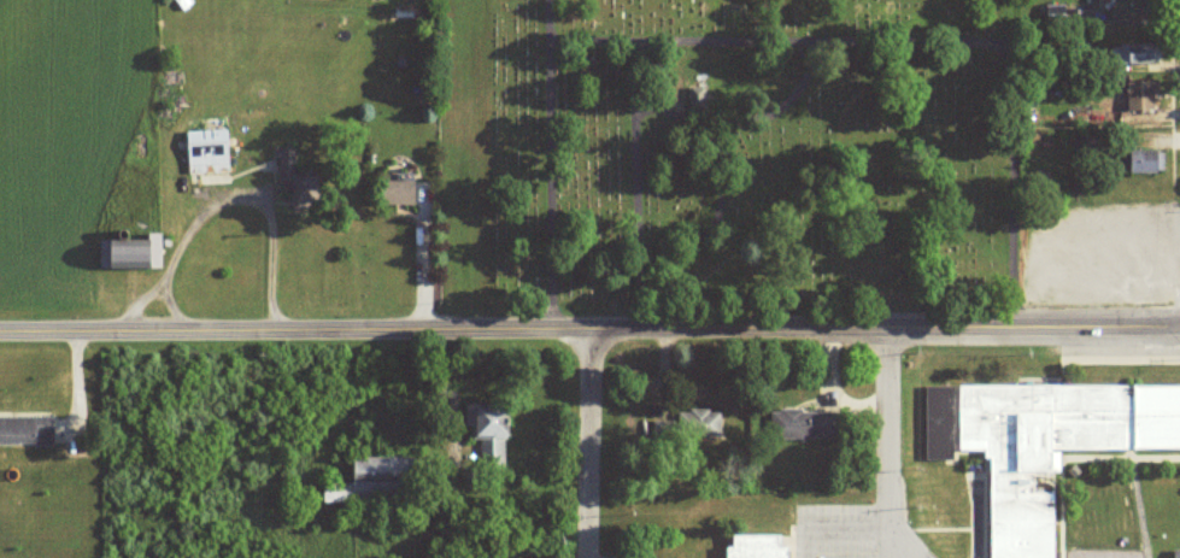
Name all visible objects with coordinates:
building: (1140, 7)
building: (1140, 52)
building: (1143, 95)
building: (209, 149)
park: (705, 154)
building: (1147, 160)
building: (301, 178)
building: (405, 192)
building: (134, 252)
road: (589, 317)
building: (493, 421)
building: (711, 422)
building: (808, 423)
building: (27, 429)
road: (890, 429)
road: (593, 437)
building: (1045, 442)
building: (380, 478)
building: (755, 545)
road: (890, 550)
road: (900, 550)
building: (1178, 553)

